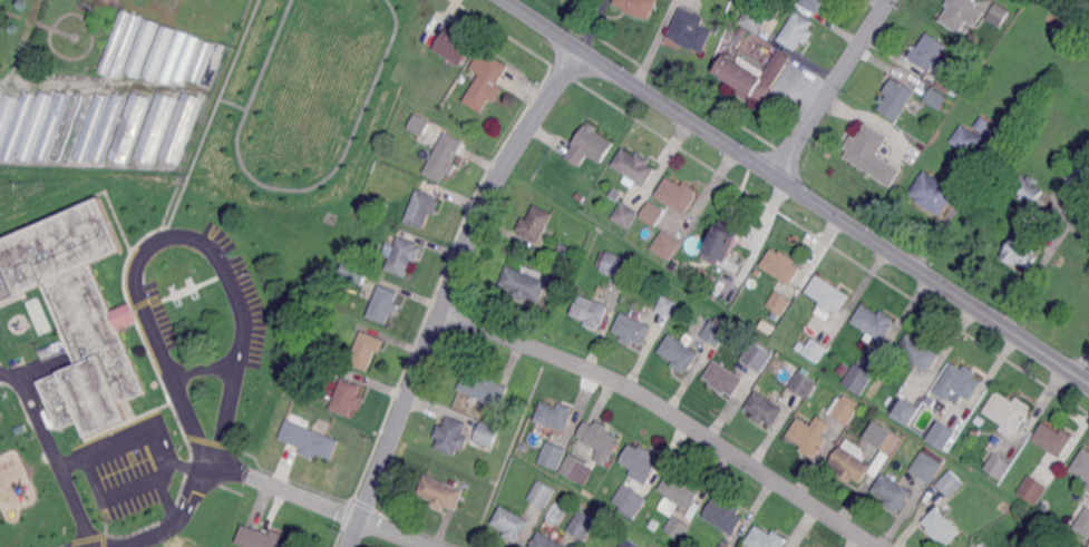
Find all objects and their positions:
building: (815, 3)
building: (638, 7)
building: (962, 13)
building: (998, 14)
building: (755, 19)
building: (691, 30)
building: (797, 31)
building: (742, 32)
building: (120, 41)
building: (451, 47)
building: (140, 48)
building: (927, 51)
building: (158, 52)
building: (173, 58)
building: (185, 59)
building: (200, 60)
building: (213, 65)
building: (752, 75)
building: (487, 80)
building: (950, 86)
road: (832, 88)
building: (1, 96)
building: (897, 98)
building: (936, 98)
road: (232, 102)
building: (6, 113)
road: (210, 118)
building: (982, 123)
building: (420, 124)
building: (17, 125)
building: (51, 125)
building: (33, 126)
building: (107, 126)
building: (130, 126)
building: (156, 126)
building: (70, 127)
building: (90, 127)
building: (182, 127)
building: (968, 139)
building: (589, 145)
building: (872, 154)
building: (446, 156)
building: (635, 165)
building: (1080, 178)
road: (289, 187)
road: (797, 189)
building: (1031, 191)
building: (934, 193)
building: (679, 194)
building: (578, 197)
road: (771, 206)
building: (424, 208)
building: (651, 212)
building: (625, 214)
building: (536, 223)
road: (174, 234)
building: (1087, 235)
building: (667, 245)
building: (721, 245)
building: (1021, 252)
building: (405, 255)
building: (566, 255)
building: (360, 256)
building: (1, 261)
building: (615, 264)
building: (781, 265)
building: (356, 270)
building: (524, 283)
building: (7, 289)
building: (602, 289)
road: (449, 290)
building: (631, 290)
building: (828, 294)
building: (328, 297)
building: (779, 302)
building: (385, 304)
building: (668, 305)
building: (324, 309)
building: (591, 311)
building: (78, 313)
building: (875, 322)
building: (633, 329)
building: (717, 331)
building: (367, 350)
building: (815, 350)
building: (921, 351)
building: (680, 353)
building: (757, 359)
road: (1083, 363)
building: (328, 367)
road: (205, 368)
building: (843, 368)
road: (9, 373)
building: (858, 378)
building: (725, 379)
building: (956, 382)
building: (803, 384)
building: (484, 387)
building: (348, 398)
building: (766, 408)
building: (845, 408)
road: (668, 410)
building: (904, 410)
building: (1009, 412)
building: (555, 416)
building: (487, 433)
building: (450, 434)
building: (943, 434)
building: (600, 436)
building: (810, 436)
building: (884, 437)
building: (1054, 438)
road: (46, 439)
building: (310, 440)
building: (525, 447)
building: (552, 457)
road: (165, 458)
building: (856, 461)
road: (191, 462)
building: (641, 462)
building: (930, 463)
building: (999, 465)
building: (1082, 465)
building: (574, 467)
building: (952, 483)
building: (1088, 488)
building: (681, 489)
building: (1034, 489)
building: (440, 492)
building: (894, 492)
building: (543, 494)
building: (631, 500)
road: (321, 504)
building: (726, 516)
road: (175, 519)
building: (1030, 522)
building: (1083, 522)
building: (512, 524)
building: (584, 526)
building: (942, 526)
building: (679, 527)
building: (263, 538)
building: (767, 538)
building: (545, 541)
building: (631, 544)
building: (723, 545)
building: (1082, 546)

